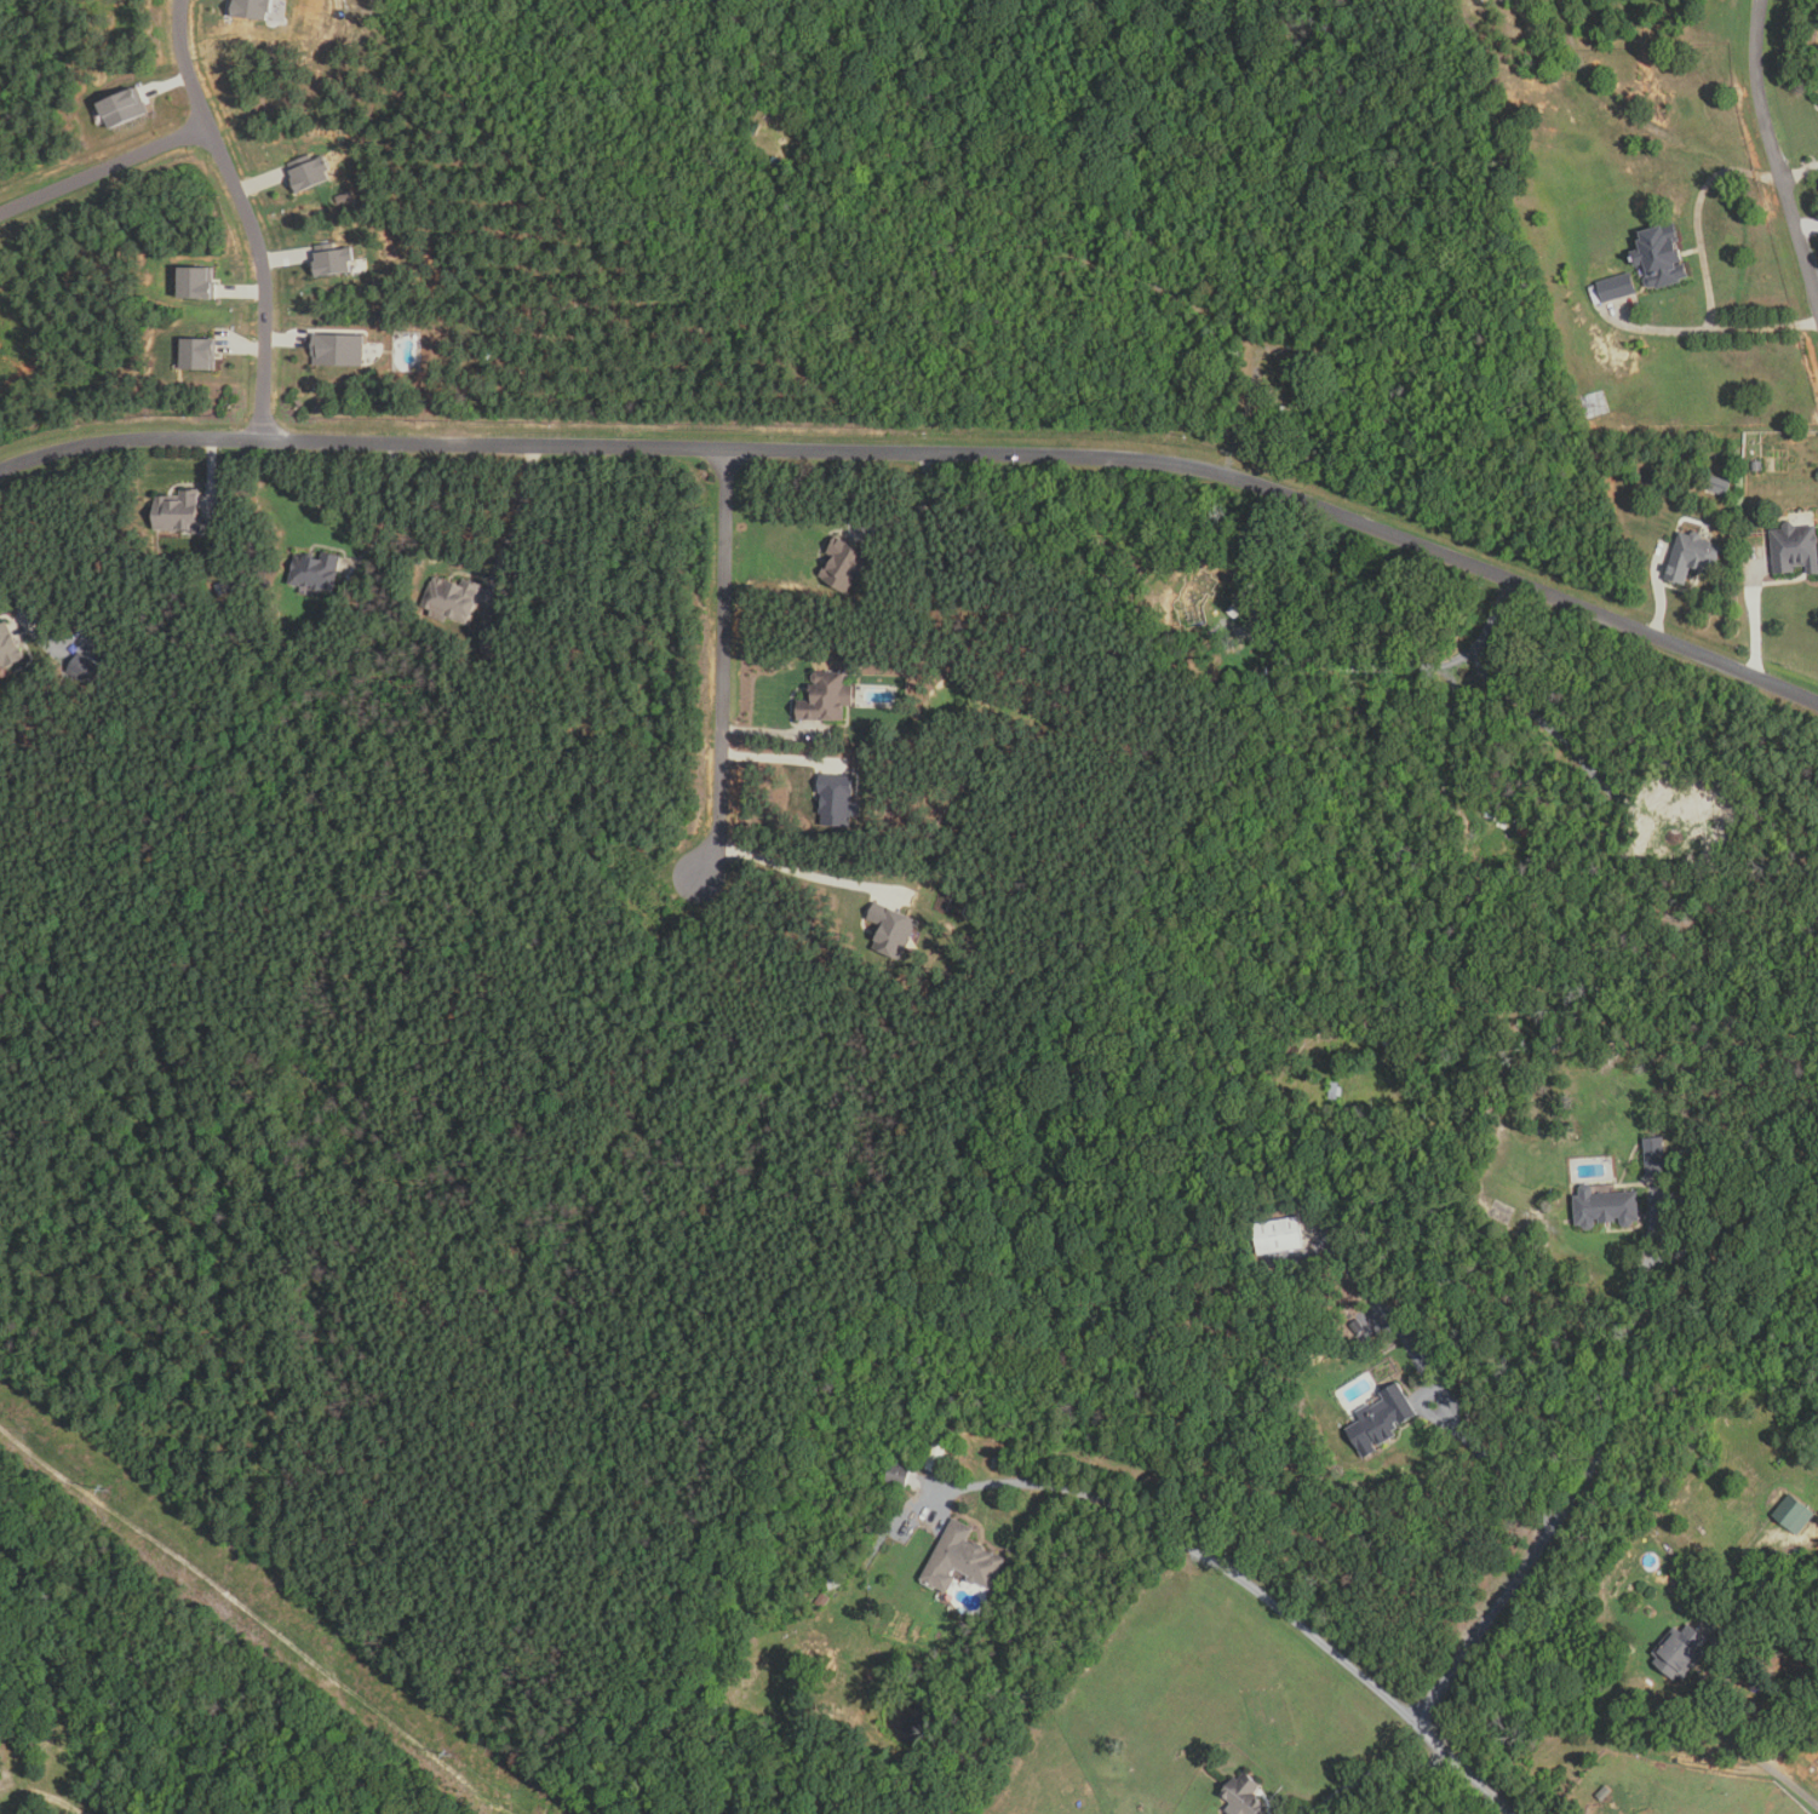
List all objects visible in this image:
building: (250, 7)
building: (122, 107)
road: (1776, 151)
road: (103, 170)
building: (306, 171)
road: (1801, 173)
building: (344, 197)
road: (247, 214)
road: (1807, 226)
building: (1661, 257)
building: (331, 260)
road: (1703, 266)
building: (194, 282)
building: (1617, 287)
building: (338, 350)
building: (197, 355)
building: (1596, 404)
road: (928, 450)
building: (1757, 466)
building: (1720, 486)
building: (178, 512)
road: (390, 512)
road: (917, 513)
road: (517, 524)
building: (1795, 549)
building: (1692, 556)
building: (843, 564)
building: (315, 570)
road: (15, 585)
road: (1661, 591)
building: (452, 598)
road: (1755, 620)
building: (8, 647)
road: (722, 665)
road: (1400, 670)
road: (1474, 677)
building: (825, 698)
road: (768, 733)
road: (1558, 735)
road: (1455, 753)
road: (781, 760)
building: (837, 800)
road: (813, 876)
building: (890, 930)
building: (1654, 1156)
building: (1606, 1209)
building: (1278, 1236)
building: (1358, 1327)
building: (1386, 1417)
building: (935, 1458)
road: (1498, 1463)
building: (897, 1475)
power tower: (108, 1494)
road: (1561, 1514)
building: (1794, 1515)
building: (959, 1561)
building: (832, 1580)
building: (1678, 1584)
road: (1263, 1596)
building: (822, 1600)
building: (1682, 1652)
road: (1731, 1732)
power tower: (448, 1760)
road: (1382, 1770)
building: (1604, 1793)
building: (1244, 1796)
building: (1229, 1813)
building: (1231, 1813)

